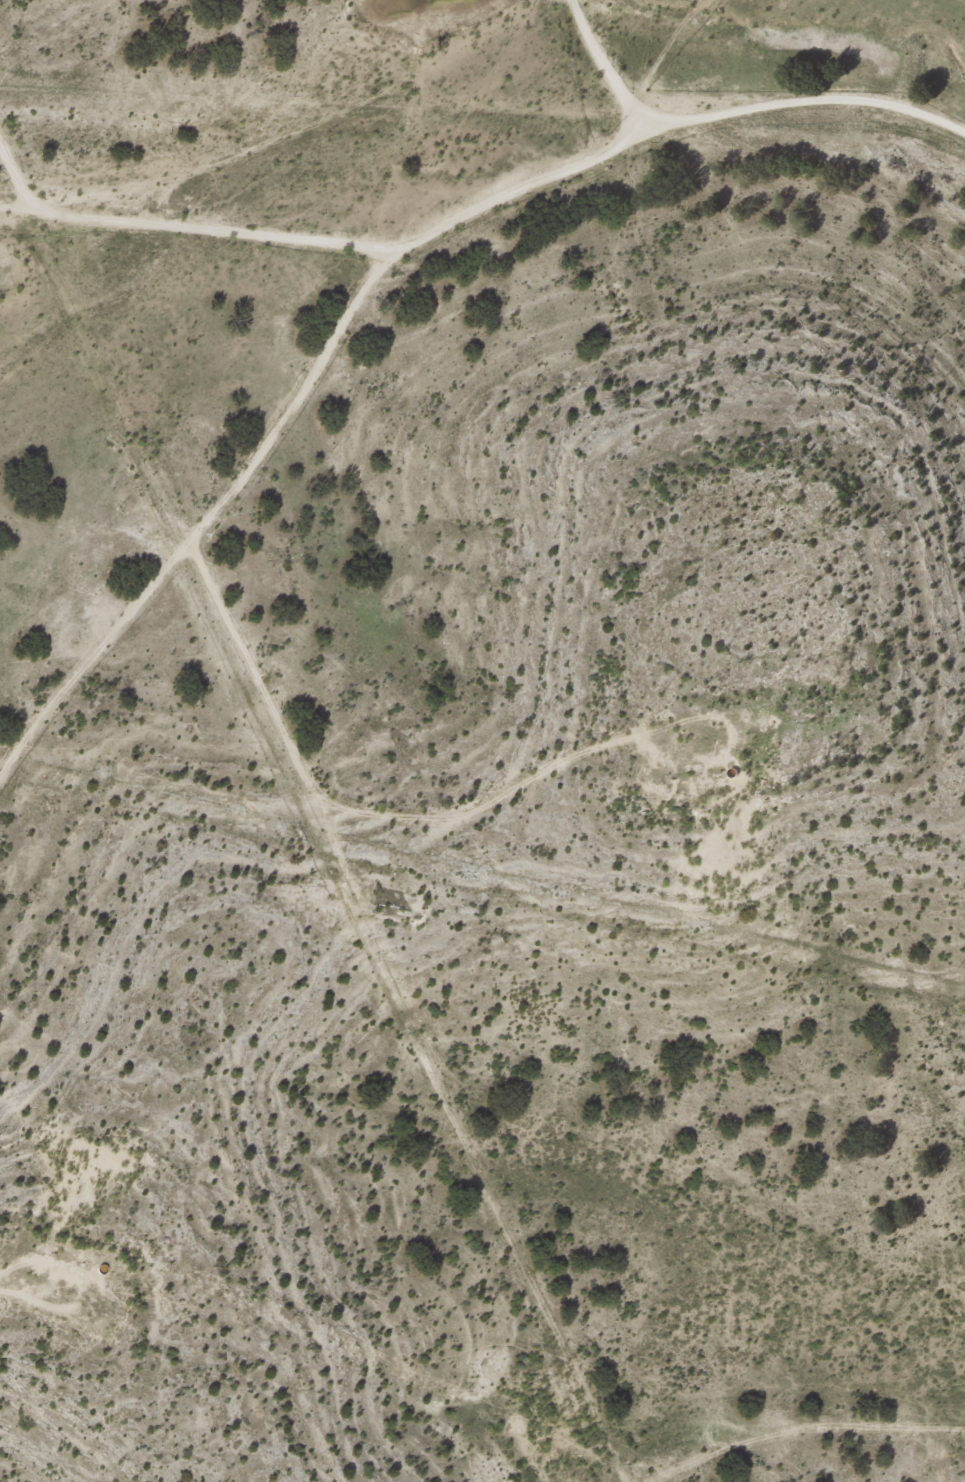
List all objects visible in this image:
road: (636, 46)
road: (199, 194)
road: (391, 263)
road: (774, 1426)

